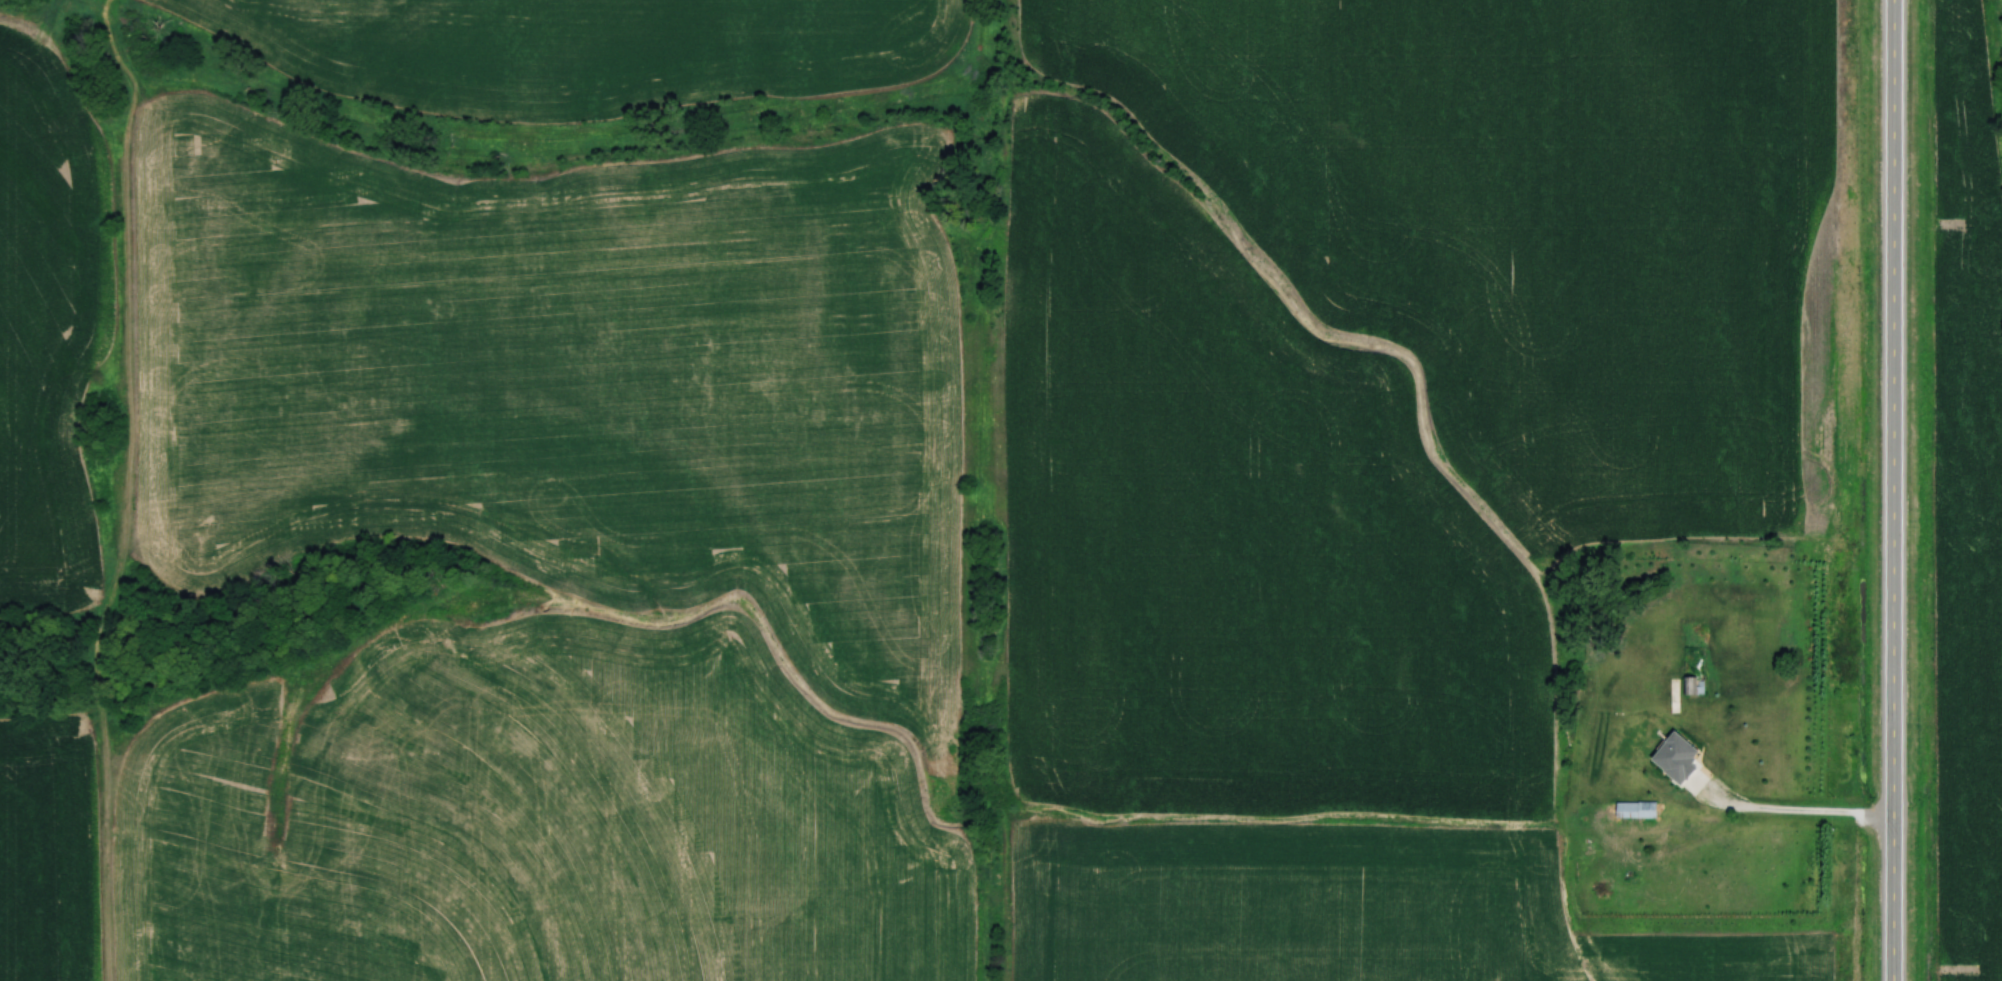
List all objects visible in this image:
road: (1894, 490)
building: (1694, 664)
building: (1712, 763)
building: (1635, 811)
road: (1793, 811)

